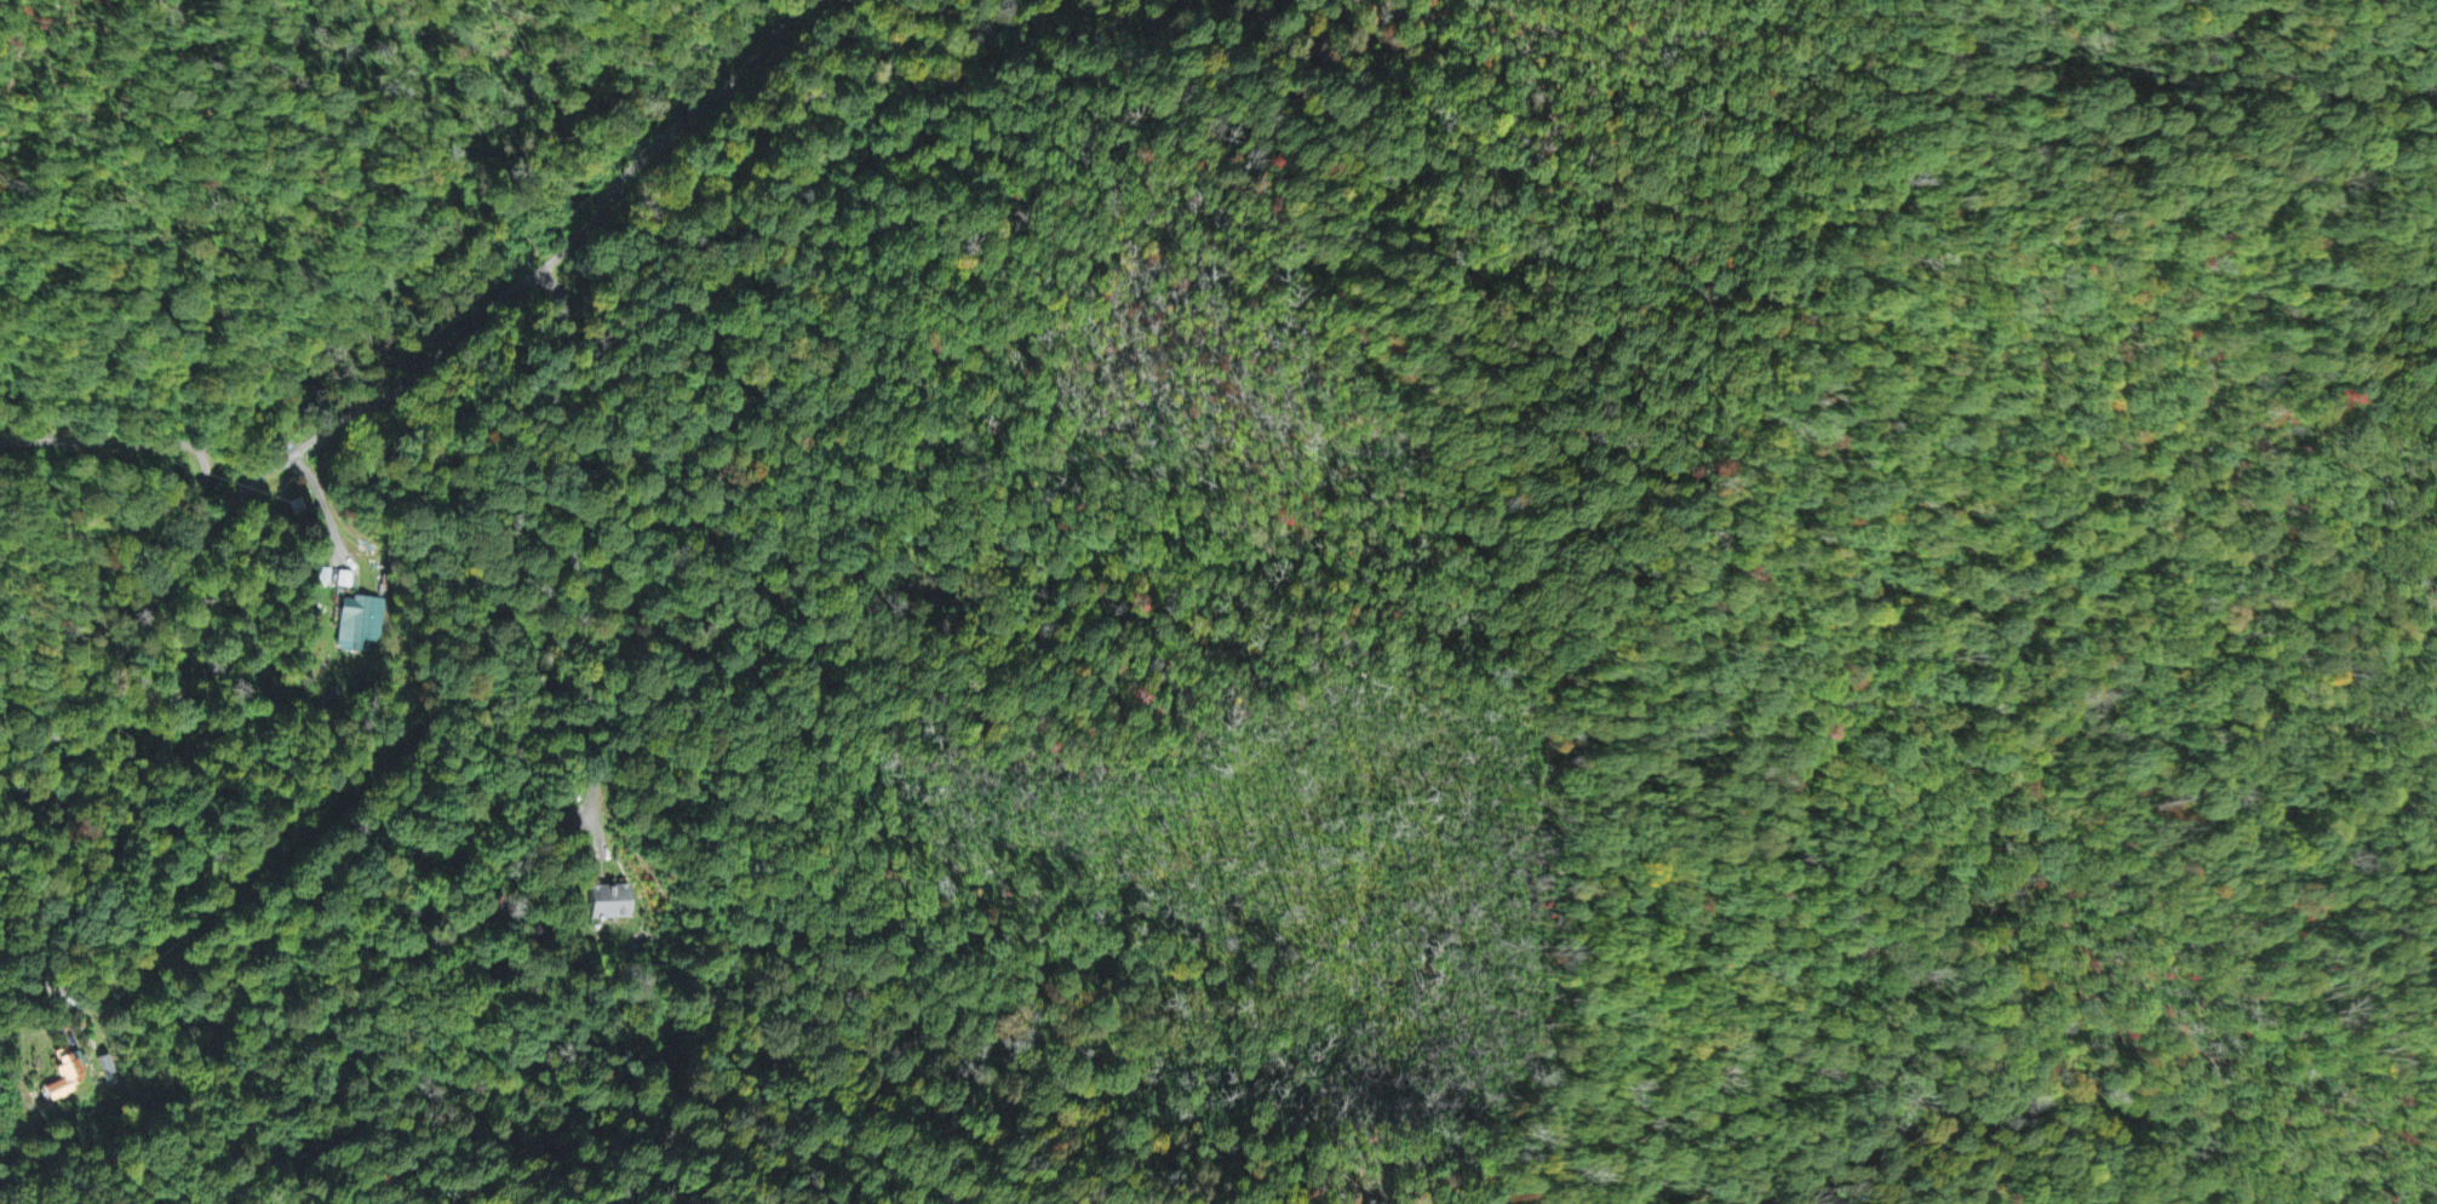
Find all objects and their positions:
road: (382, 400)
road: (168, 440)
road: (573, 557)
building: (362, 617)
road: (35, 888)
building: (610, 898)
building: (107, 1065)
building: (70, 1067)

